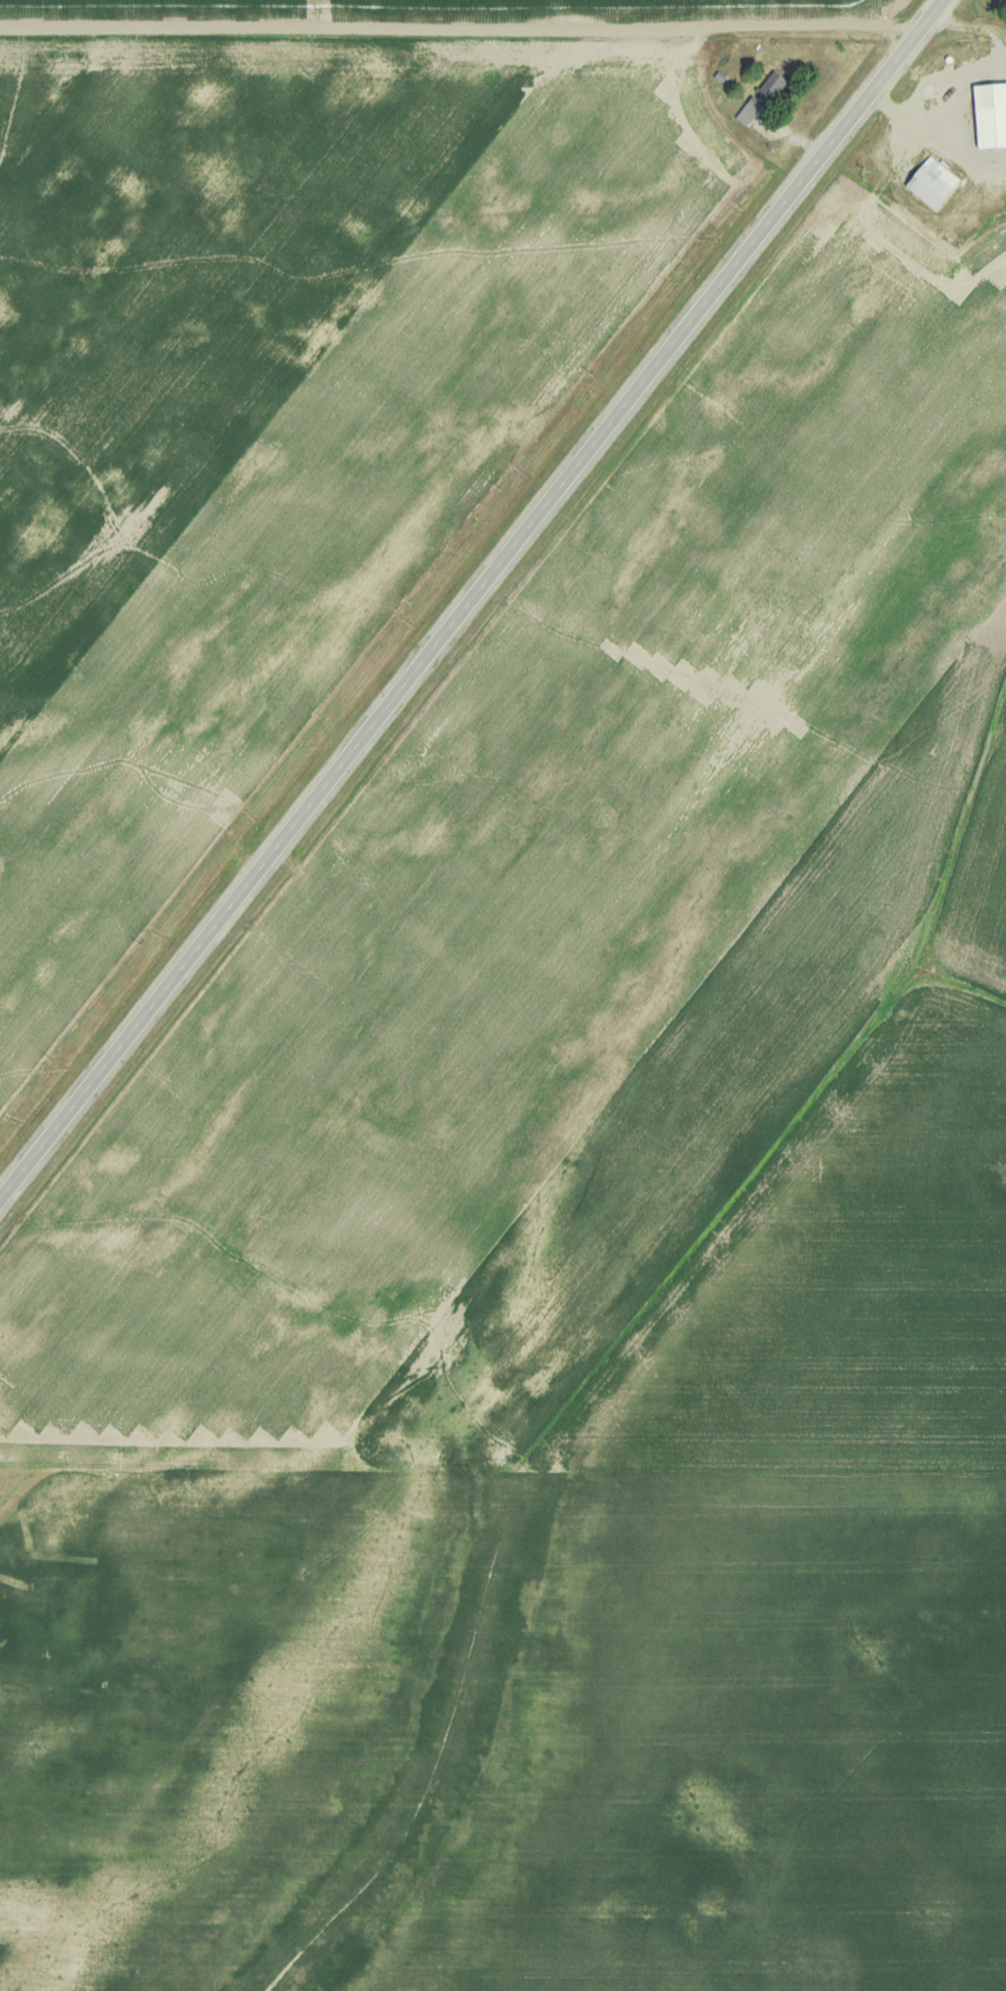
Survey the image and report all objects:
road: (457, 24)
building: (719, 75)
building: (772, 84)
building: (749, 111)
building: (992, 113)
building: (935, 181)
road: (472, 599)

